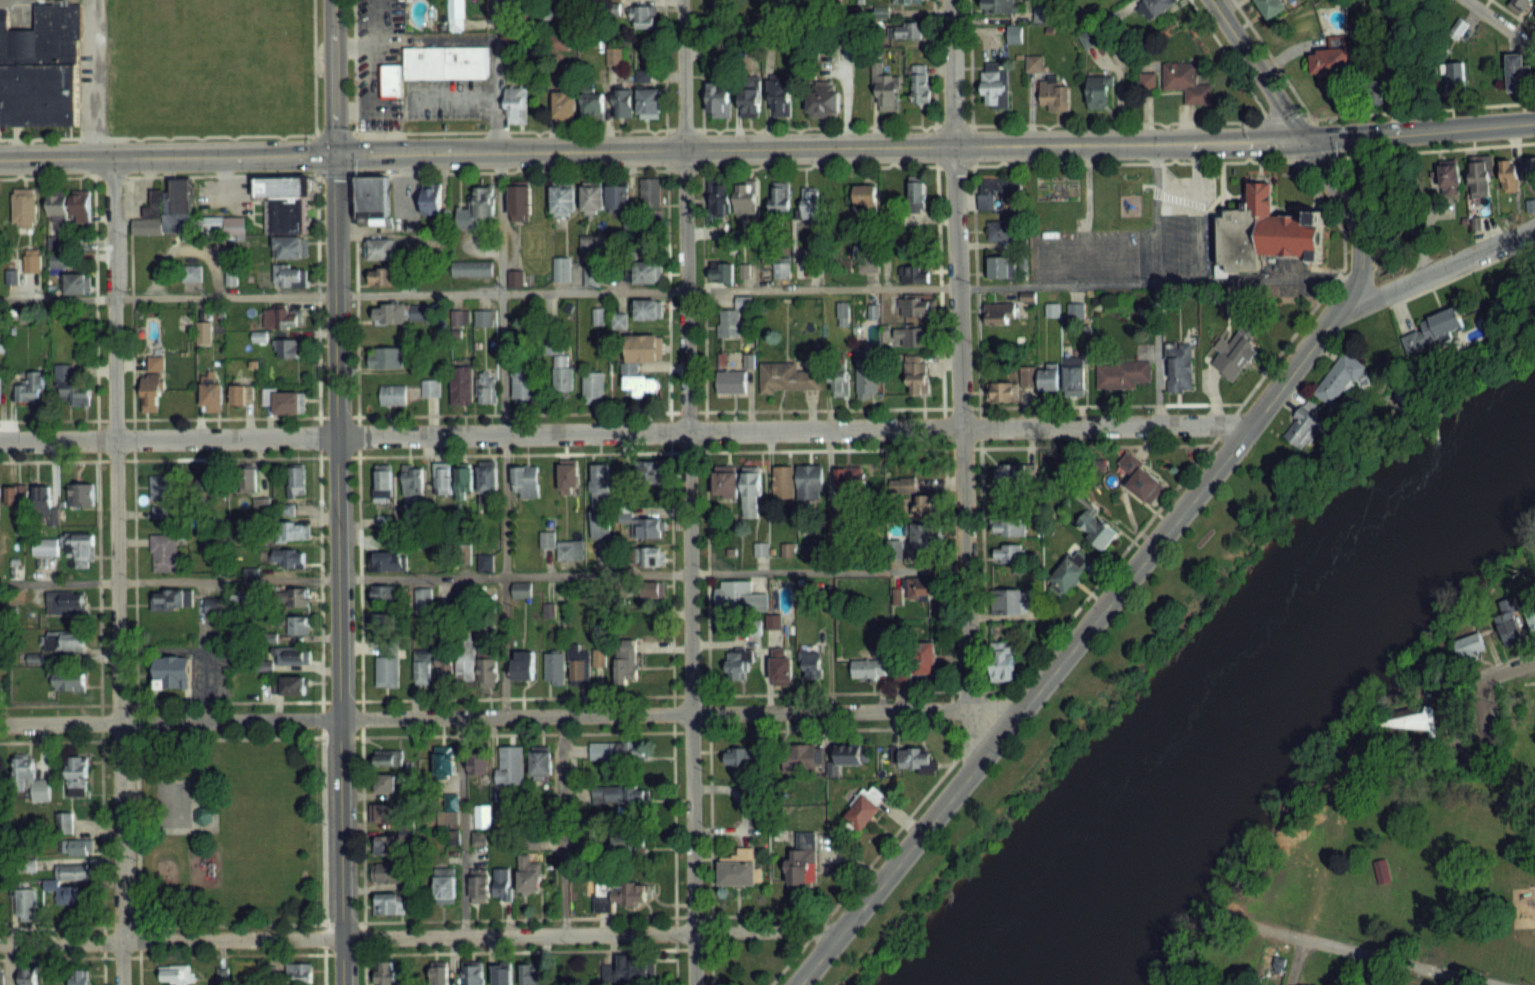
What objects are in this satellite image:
building: (905, 1)
building: (1000, 5)
building: (1157, 6)
building: (1271, 7)
road: (1513, 14)
building: (456, 15)
building: (643, 18)
road: (1501, 23)
building: (908, 30)
building: (1015, 33)
road: (1227, 58)
road: (1269, 58)
building: (1329, 60)
building: (444, 62)
building: (40, 69)
building: (1518, 73)
road: (92, 78)
road: (365, 79)
building: (388, 80)
building: (1148, 81)
building: (921, 83)
building: (1187, 83)
building: (996, 84)
building: (886, 91)
building: (1099, 92)
building: (1054, 93)
road: (452, 98)
building: (780, 100)
building: (650, 101)
building: (750, 101)
building: (823, 101)
building: (622, 102)
building: (718, 102)
building: (564, 103)
building: (593, 104)
building: (516, 105)
road: (1421, 109)
road: (1282, 118)
road: (802, 126)
road: (157, 136)
road: (1319, 136)
road: (1272, 139)
traffic signals: (1301, 139)
road: (767, 147)
road: (1433, 148)
road: (1309, 150)
traffic signals: (334, 153)
road: (1312, 159)
road: (820, 166)
building: (1531, 172)
building: (1509, 174)
road: (153, 175)
building: (1449, 177)
building: (1479, 177)
building: (280, 186)
building: (651, 193)
building: (618, 195)
building: (866, 195)
building: (999, 195)
building: (592, 196)
building: (917, 196)
building: (432, 197)
building: (746, 197)
building: (780, 197)
building: (563, 199)
building: (720, 199)
building: (370, 200)
building: (521, 200)
building: (811, 201)
building: (69, 206)
building: (175, 206)
building: (24, 207)
building: (476, 209)
road: (1195, 212)
building: (286, 215)
road: (499, 217)
building: (220, 224)
building: (1001, 230)
building: (1262, 232)
building: (290, 247)
building: (381, 248)
road: (1078, 248)
building: (31, 262)
building: (1001, 266)
road: (1436, 266)
building: (472, 267)
building: (561, 268)
building: (781, 269)
building: (191, 272)
building: (721, 272)
building: (914, 272)
building: (646, 273)
building: (383, 275)
building: (289, 276)
building: (591, 276)
building: (75, 283)
road: (1154, 284)
road: (679, 291)
building: (921, 307)
building: (646, 309)
building: (1052, 310)
building: (1076, 311)
building: (390, 312)
building: (1000, 313)
building: (278, 317)
building: (483, 317)
building: (728, 323)
building: (1431, 330)
building: (204, 332)
building: (915, 336)
building: (287, 348)
building: (643, 348)
building: (1234, 355)
building: (385, 357)
building: (1179, 367)
building: (562, 372)
building: (916, 374)
building: (1124, 375)
building: (790, 376)
building: (1049, 376)
building: (1074, 376)
building: (867, 378)
building: (1338, 379)
road: (941, 380)
building: (840, 381)
building: (731, 382)
building: (462, 384)
building: (524, 384)
building: (642, 385)
building: (31, 386)
building: (152, 386)
building: (593, 386)
road: (962, 386)
building: (430, 387)
building: (486, 387)
building: (71, 388)
building: (1003, 391)
building: (395, 394)
building: (241, 395)
building: (211, 396)
building: (285, 402)
road: (620, 411)
building: (1305, 427)
road: (622, 433)
road: (604, 452)
building: (652, 471)
building: (568, 475)
building: (488, 476)
building: (848, 476)
building: (246, 478)
building: (442, 478)
building: (296, 479)
building: (412, 479)
building: (464, 479)
building: (726, 480)
building: (1143, 480)
building: (525, 481)
building: (810, 481)
building: (783, 482)
building: (1012, 482)
building: (382, 484)
building: (902, 484)
building: (163, 486)
building: (751, 491)
road: (337, 492)
road: (668, 492)
road: (690, 492)
road: (704, 492)
building: (81, 493)
building: (16, 498)
building: (599, 499)
building: (42, 503)
building: (259, 504)
building: (924, 505)
building: (162, 510)
building: (1009, 526)
building: (649, 529)
building: (1095, 529)
building: (294, 530)
building: (925, 536)
building: (547, 539)
building: (44, 546)
building: (80, 547)
building: (570, 549)
building: (163, 551)
building: (1008, 552)
building: (649, 556)
building: (288, 557)
building: (389, 560)
road: (116, 570)
building: (1069, 570)
road: (504, 575)
road: (483, 577)
road: (317, 579)
road: (357, 579)
road: (96, 580)
road: (132, 580)
road: (1096, 580)
building: (922, 586)
building: (522, 589)
building: (650, 589)
building: (384, 593)
building: (732, 595)
building: (298, 596)
building: (423, 597)
building: (1009, 597)
building: (171, 598)
building: (65, 602)
building: (384, 620)
building: (298, 624)
building: (648, 625)
building: (1510, 626)
building: (64, 641)
road: (828, 642)
building: (1470, 646)
road: (1071, 650)
building: (290, 655)
building: (466, 657)
building: (924, 658)
building: (599, 659)
building: (626, 660)
building: (811, 661)
building: (1002, 662)
road: (1494, 662)
building: (739, 663)
building: (523, 665)
building: (580, 665)
building: (781, 665)
building: (445, 667)
building: (554, 667)
building: (488, 668)
building: (868, 668)
building: (388, 669)
building: (422, 669)
road: (1492, 670)
building: (171, 673)
building: (69, 681)
road: (1529, 681)
building: (290, 684)
river: (1259, 688)
road: (474, 697)
road: (512, 716)
building: (1418, 723)
road: (475, 733)
building: (618, 751)
building: (851, 753)
building: (803, 755)
building: (388, 756)
building: (541, 759)
building: (914, 759)
building: (444, 761)
building: (737, 762)
building: (478, 763)
building: (510, 765)
building: (77, 775)
building: (30, 777)
building: (385, 782)
building: (617, 793)
park: (173, 805)
building: (452, 808)
building: (865, 808)
building: (386, 811)
building: (202, 814)
building: (67, 822)
road: (563, 825)
road: (461, 828)
park: (228, 829)
road: (175, 831)
park: (1425, 837)
building: (387, 845)
building: (77, 846)
building: (801, 862)
building: (739, 869)
building: (1379, 870)
building: (74, 871)
building: (391, 873)
building: (529, 873)
building: (501, 884)
building: (445, 885)
building: (478, 886)
building: (72, 894)
building: (619, 895)
building: (25, 897)
building: (389, 902)
road: (419, 937)
road: (1369, 955)
road: (1293, 961)
building: (628, 970)
building: (300, 972)
building: (472, 972)
building: (177, 973)
building: (386, 973)
building: (439, 973)
building: (502, 973)
building: (530, 973)
building: (222, 975)
building: (1, 976)
building: (28, 976)
building: (79, 977)

